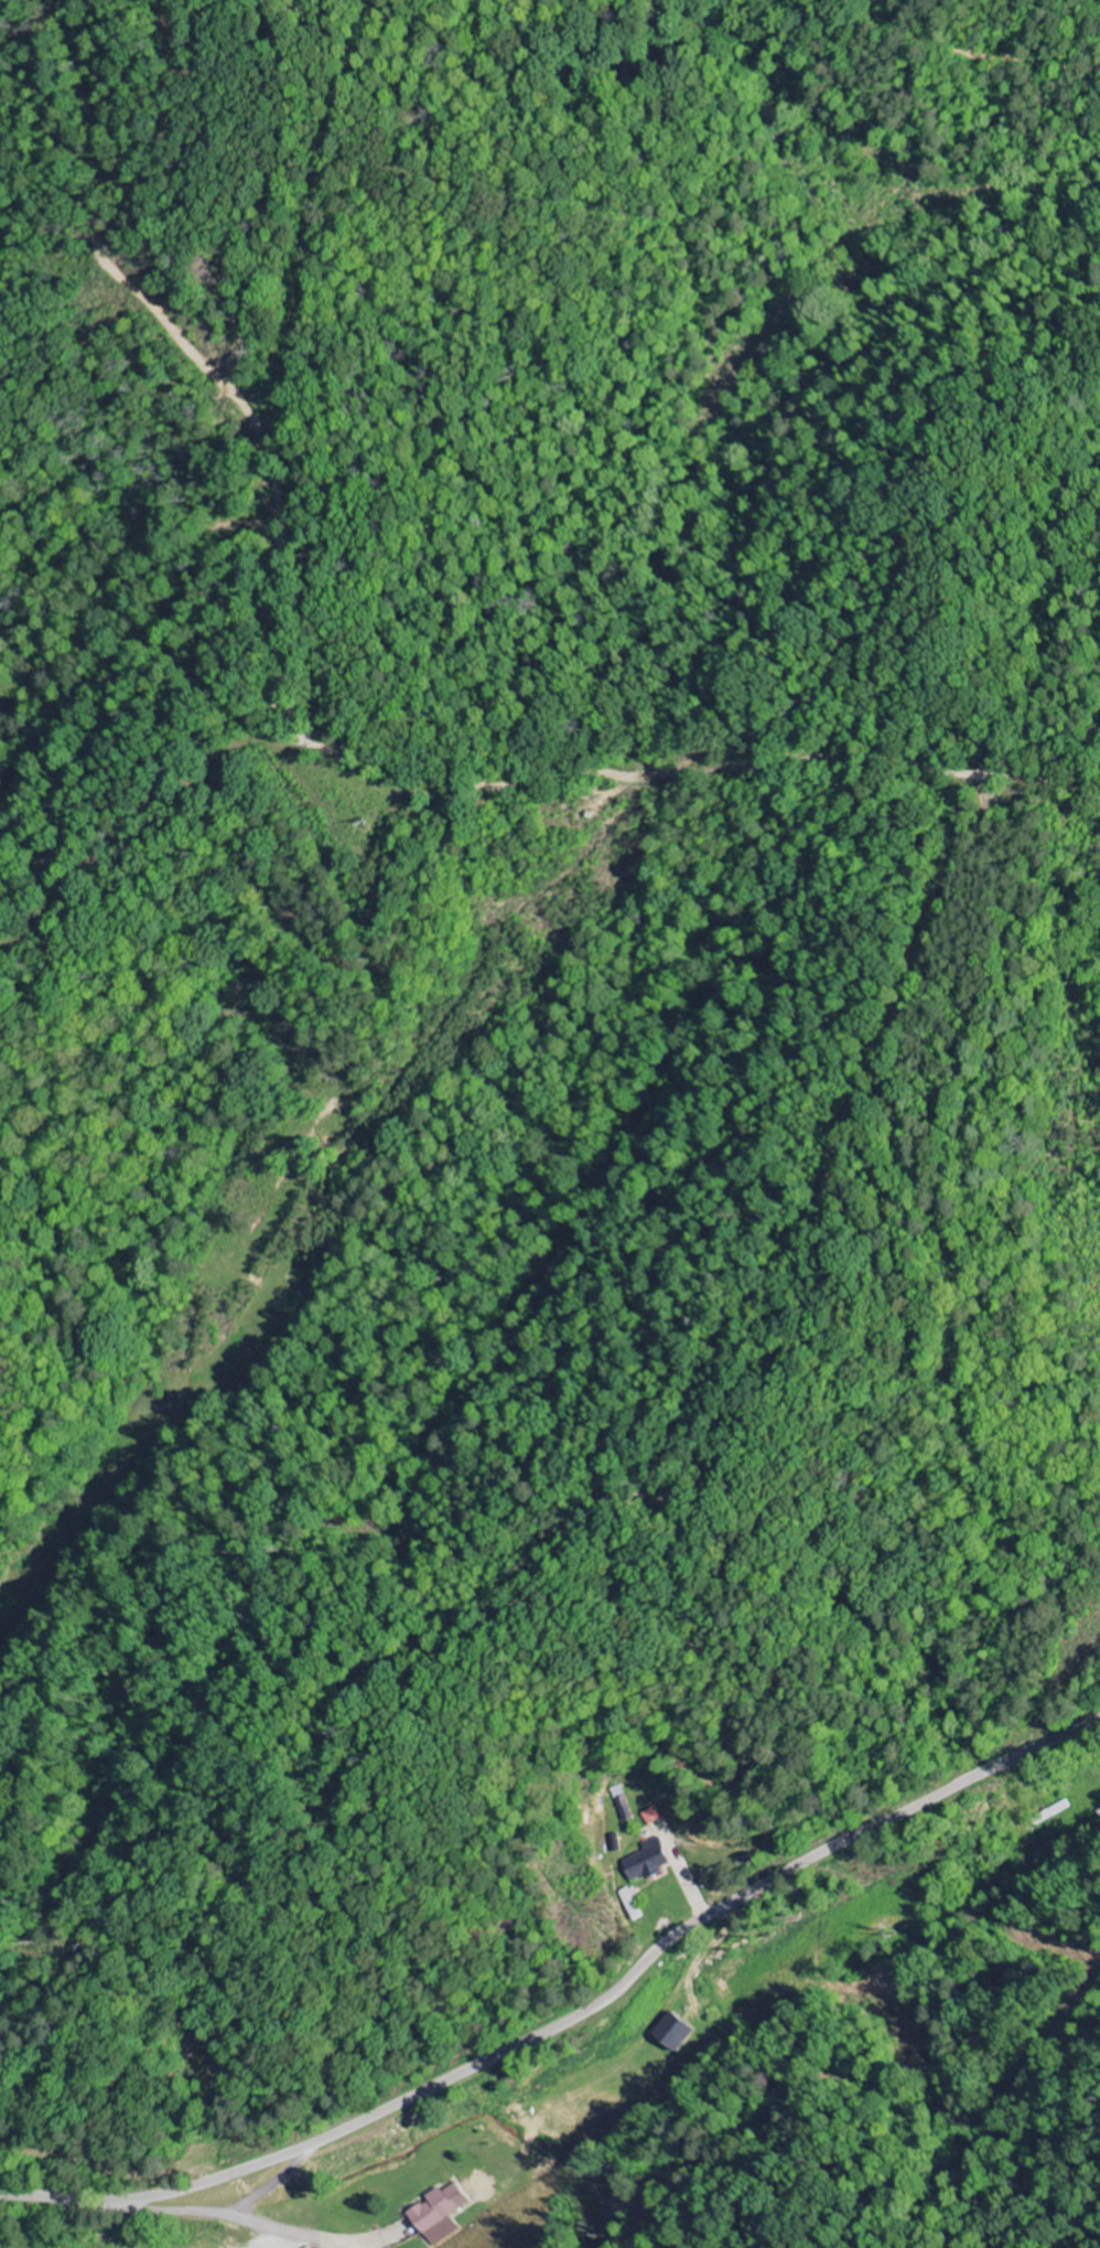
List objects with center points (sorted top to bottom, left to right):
road: (1053, 45)
road: (784, 152)
road: (977, 543)
building: (653, 1816)
building: (653, 1861)
road: (572, 2017)
building: (680, 2031)
park: (10, 2092)
road: (111, 2170)
building: (440, 2213)

